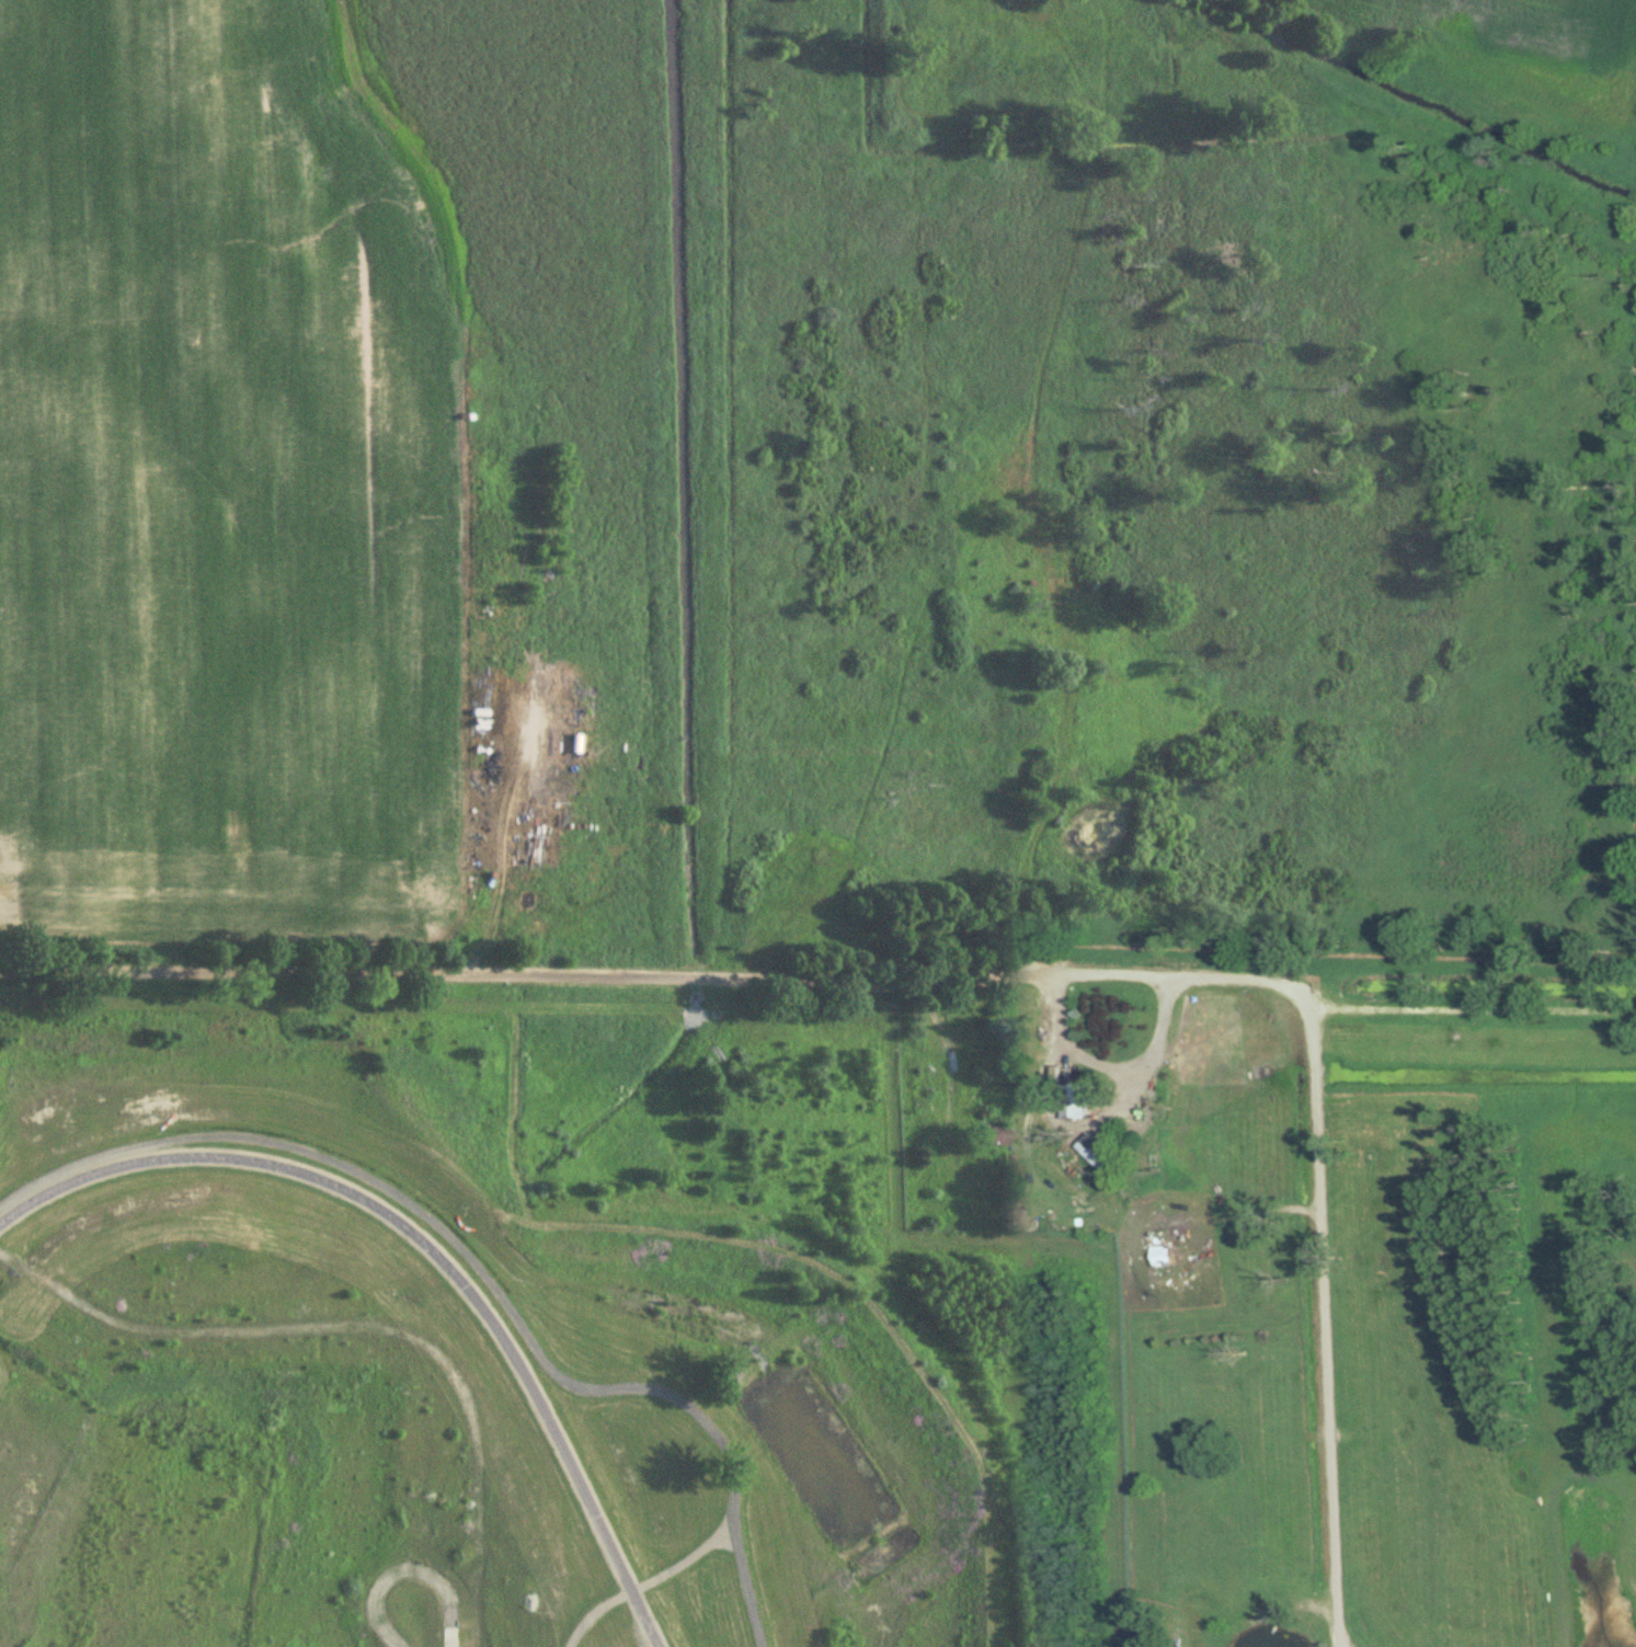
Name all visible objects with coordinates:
road: (590, 970)
road: (1071, 1043)
road: (1153, 1044)
building: (1064, 1098)
building: (996, 1135)
building: (1092, 1158)
road: (1322, 1253)
building: (1155, 1256)
road: (1340, 1644)
road: (1345, 1644)

